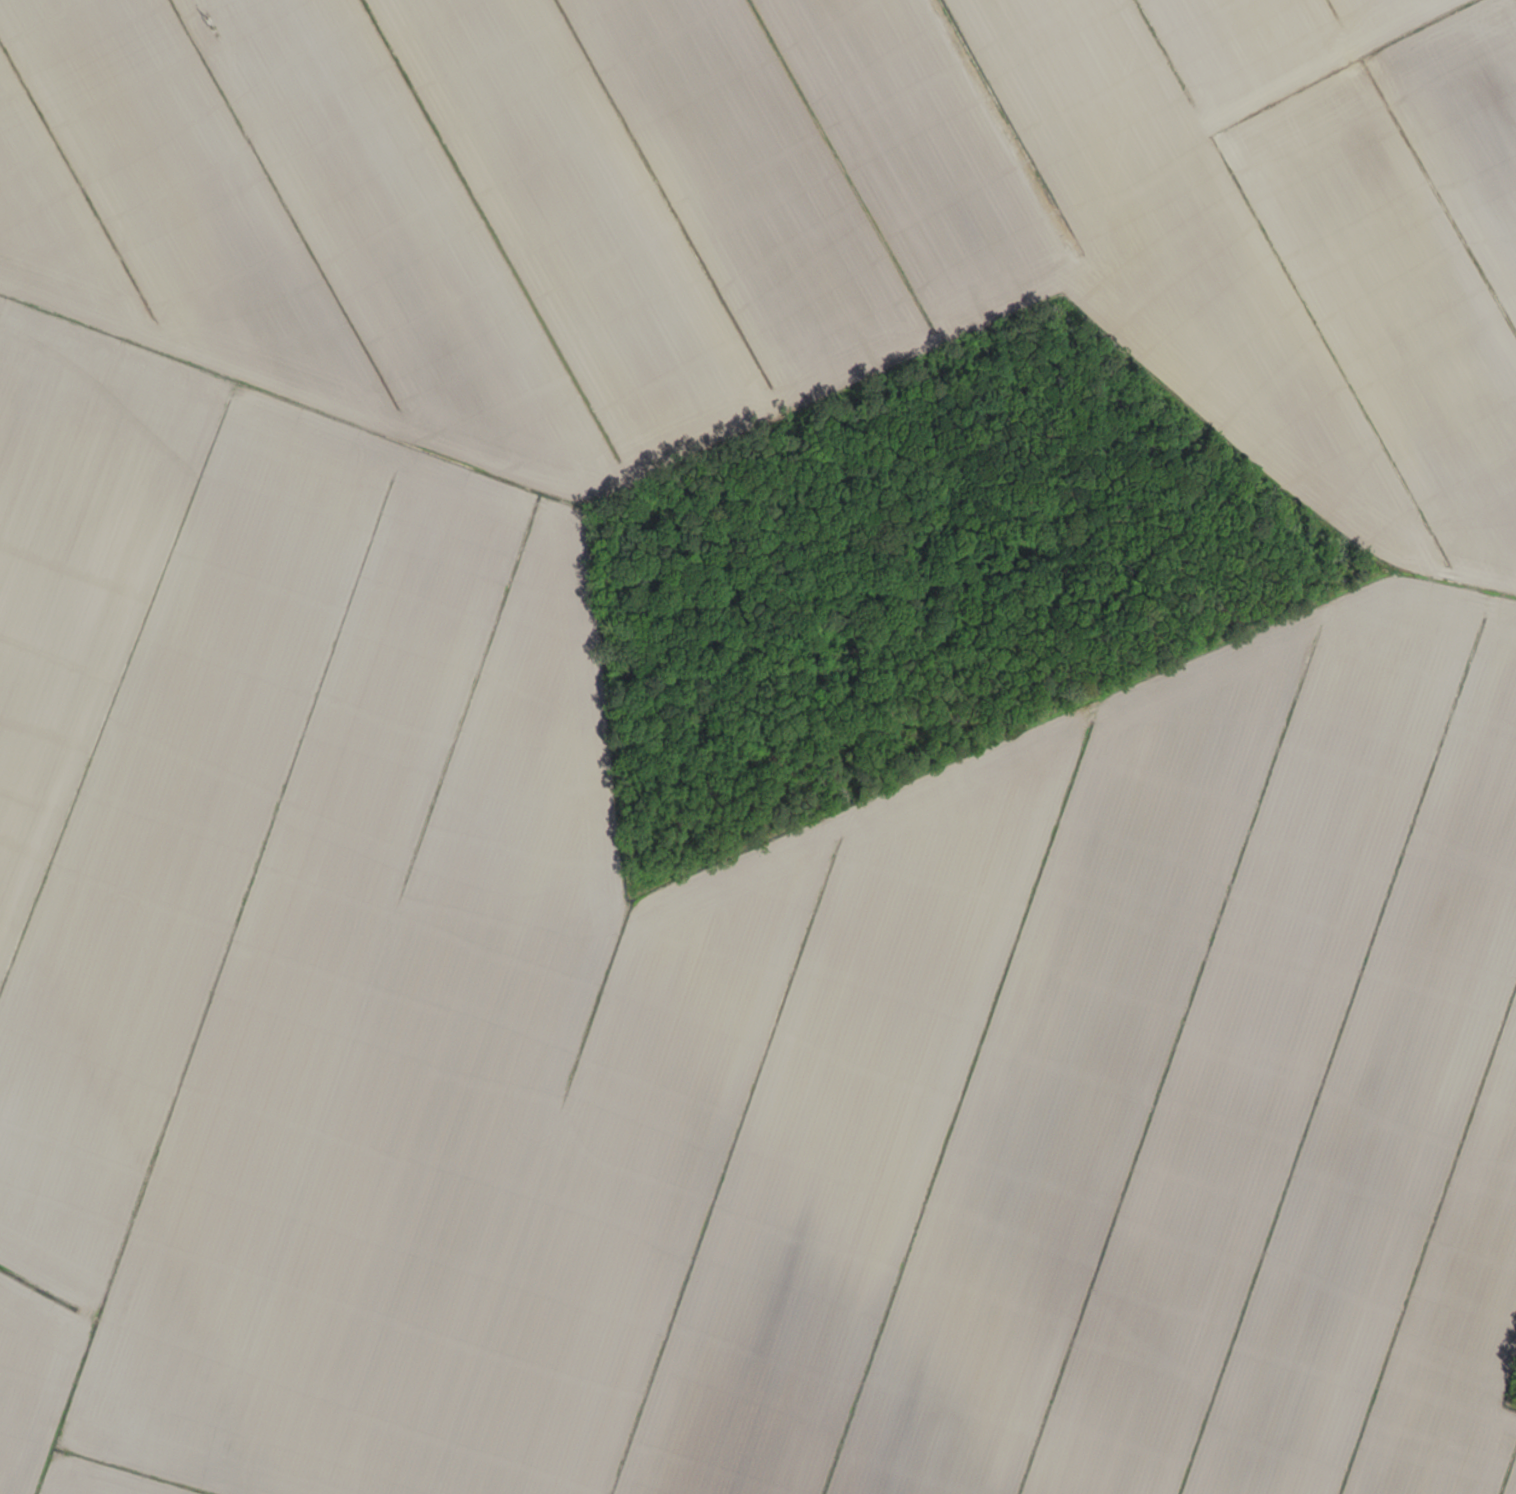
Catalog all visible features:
power tower: (209, 25)

